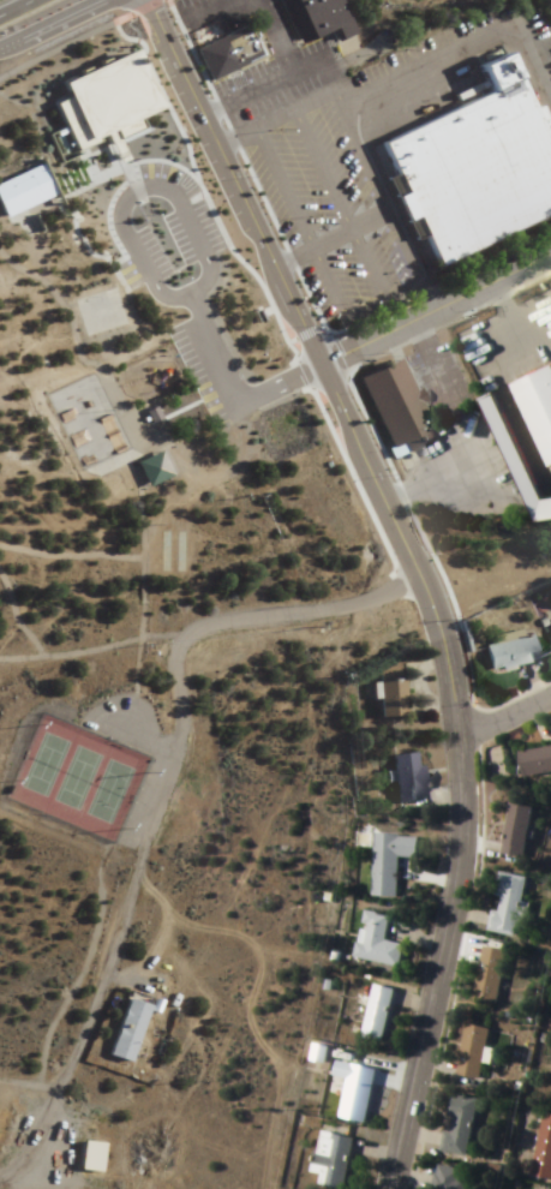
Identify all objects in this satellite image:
road: (6, 2)
building: (549, 16)
road: (40, 18)
building: (307, 18)
road: (62, 29)
building: (228, 52)
parking lot: (264, 60)
building: (95, 98)
road: (236, 132)
road: (214, 142)
road: (158, 155)
road: (373, 159)
building: (472, 166)
building: (22, 190)
parking lot: (329, 217)
road: (197, 244)
road: (254, 279)
parking lot: (181, 282)
road: (435, 312)
park: (100, 313)
road: (298, 329)
building: (389, 402)
building: (533, 408)
park: (128, 423)
building: (509, 462)
building: (149, 470)
road: (382, 504)
road: (140, 536)
road: (70, 558)
road: (142, 592)
road: (142, 622)
road: (23, 623)
building: (547, 631)
road: (91, 651)
building: (508, 652)
building: (385, 692)
road: (508, 715)
road: (178, 760)
building: (534, 763)
building: (403, 778)
park: (76, 779)
building: (515, 831)
building: (390, 862)
building: (508, 906)
building: (377, 942)
road: (447, 962)
building: (489, 976)
building: (373, 1014)
building: (126, 1032)
building: (472, 1052)
building: (354, 1091)
building: (459, 1125)
building: (543, 1151)
building: (86, 1157)
building: (331, 1159)
building: (449, 1178)

